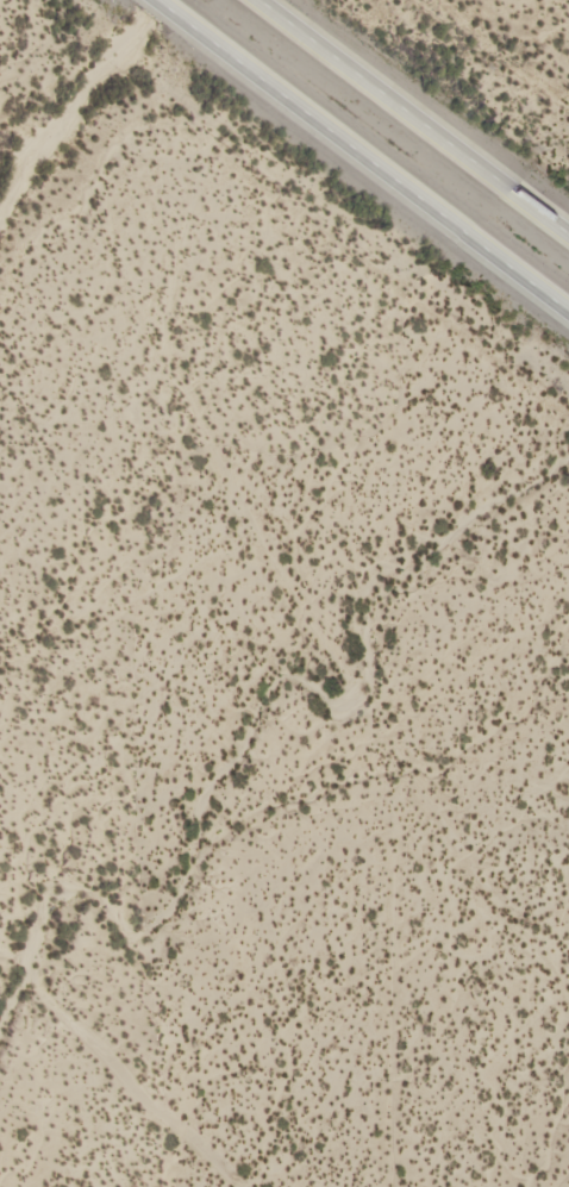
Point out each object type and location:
road: (411, 118)
road: (362, 155)

